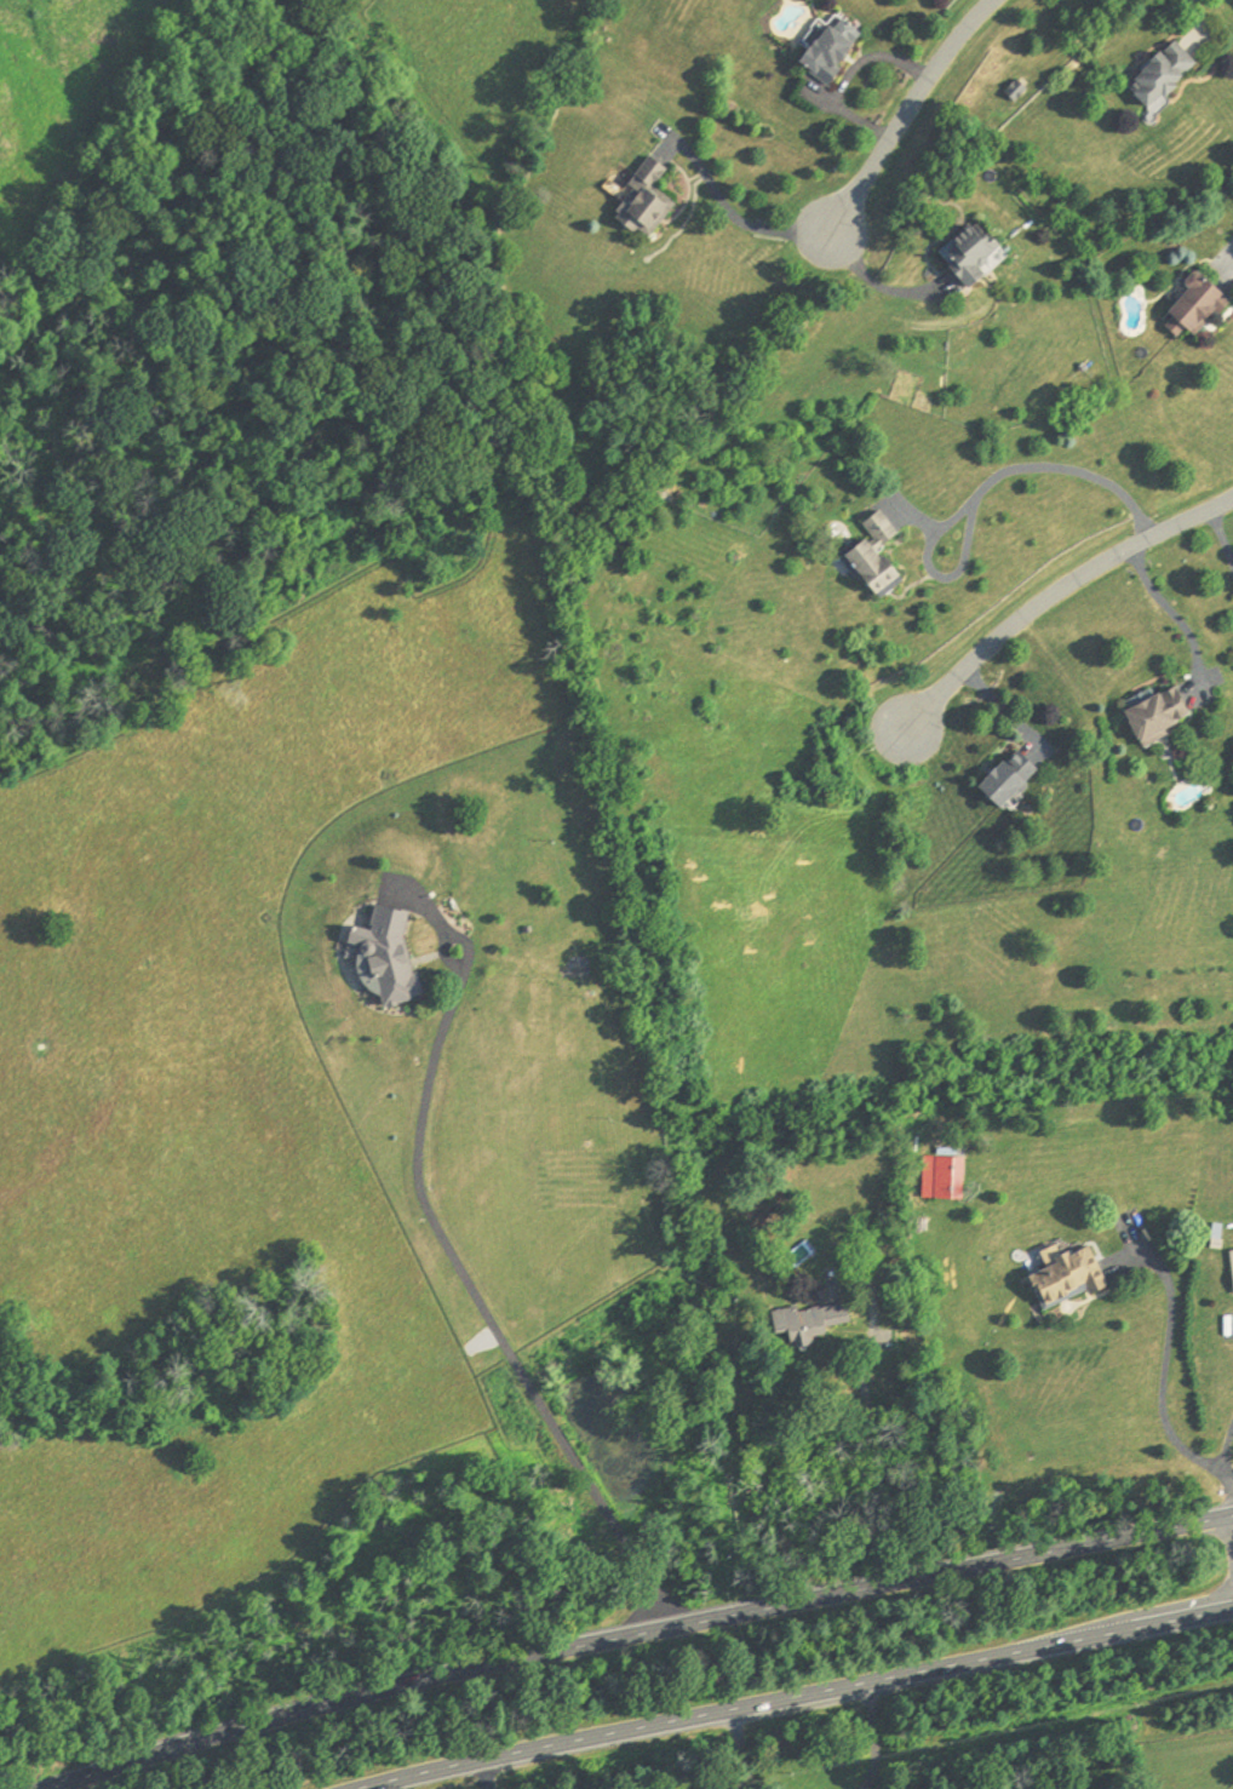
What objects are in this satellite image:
road: (1198, 16)
building: (824, 48)
building: (1154, 74)
road: (905, 114)
building: (638, 202)
road: (730, 217)
road: (1227, 252)
building: (964, 254)
road: (874, 281)
building: (1187, 309)
road: (976, 493)
building: (874, 528)
road: (1223, 534)
building: (862, 569)
road: (1055, 597)
road: (1169, 614)
building: (1151, 716)
building: (999, 779)
building: (379, 958)
building: (945, 1193)
building: (1229, 1272)
building: (1060, 1280)
road: (487, 1312)
building: (805, 1319)
road: (1163, 1364)
road: (874, 1432)
road: (1218, 1467)
road: (641, 1638)
road: (799, 1698)
road: (871, 1738)
road: (741, 1750)
road: (488, 1774)

